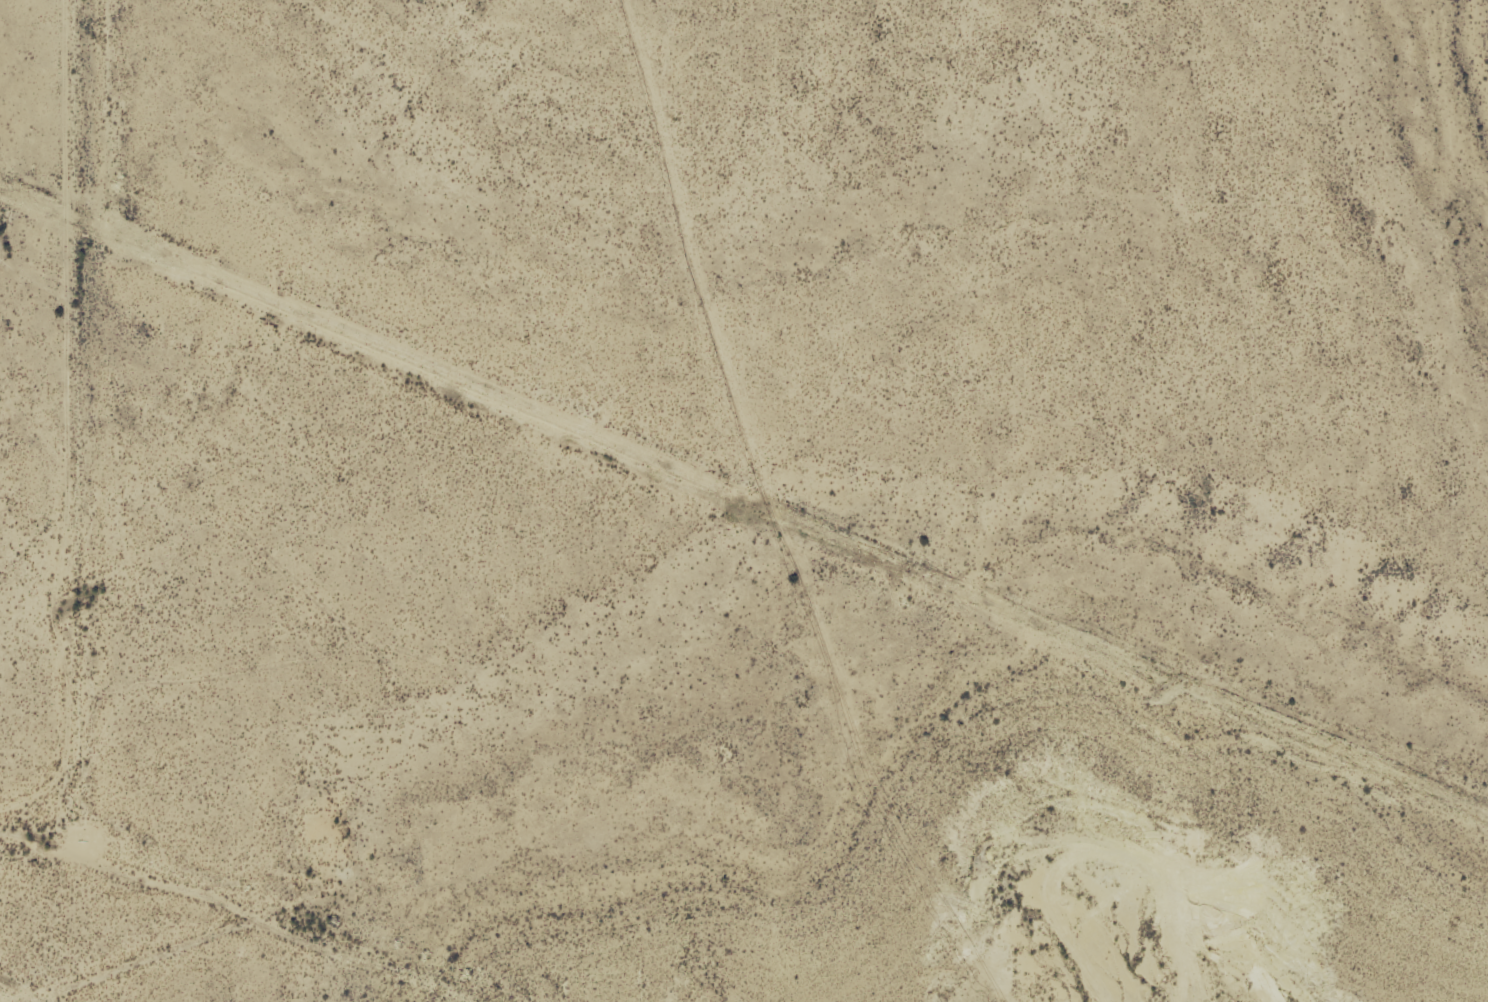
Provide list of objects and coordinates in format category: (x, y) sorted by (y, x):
road: (29, 419)
road: (195, 922)
road: (106, 961)

